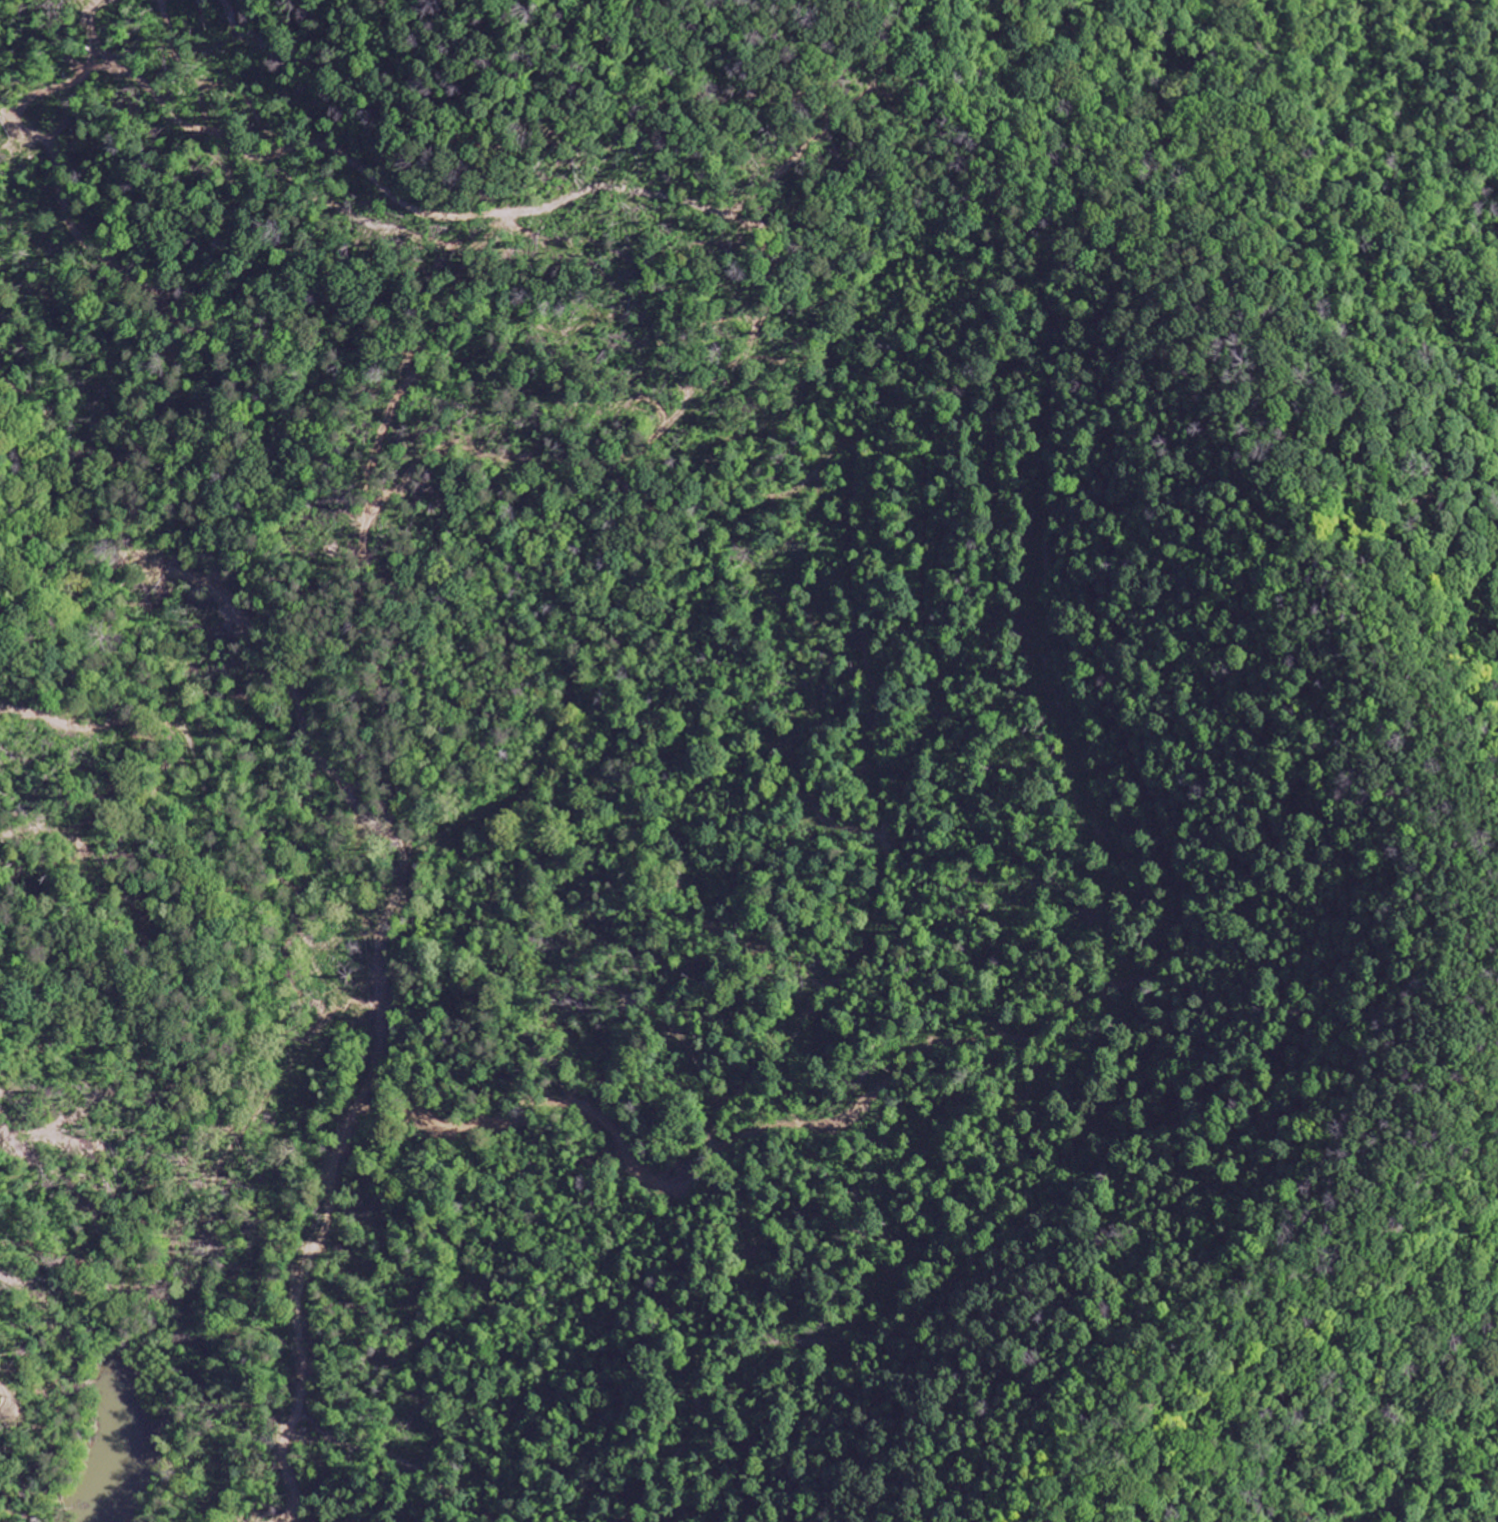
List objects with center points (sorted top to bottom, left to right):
road: (582, 447)
road: (225, 1224)

